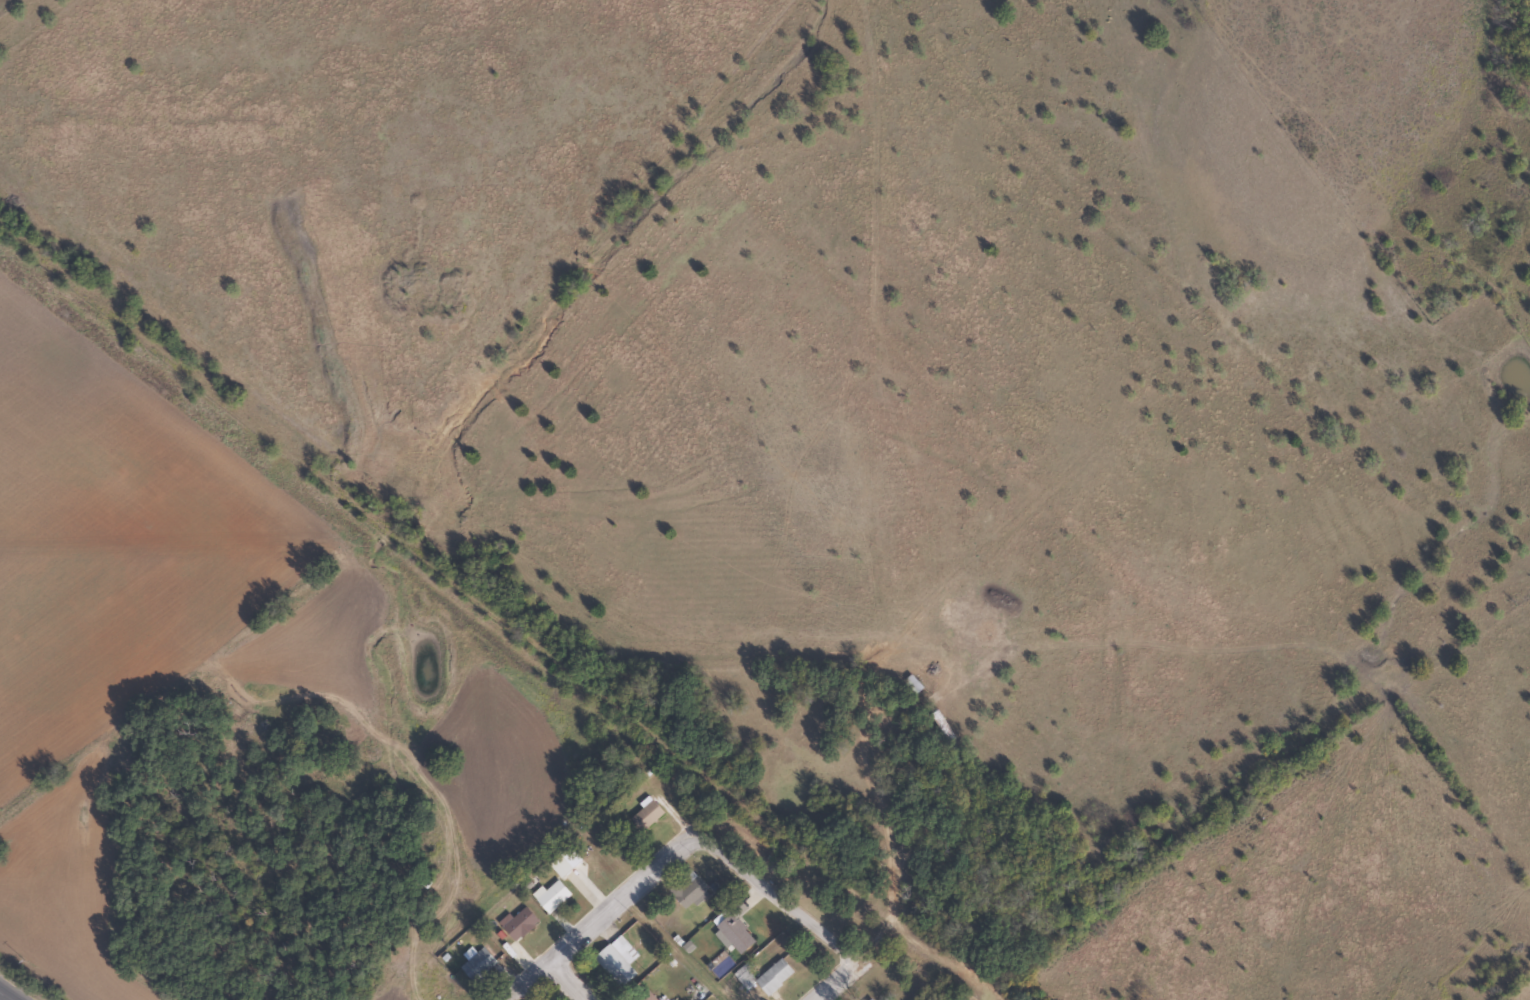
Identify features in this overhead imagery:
railway: (496, 620)
building: (910, 684)
building: (632, 801)
building: (645, 817)
road: (721, 856)
building: (686, 889)
building: (551, 897)
building: (518, 925)
building: (733, 933)
building: (615, 961)
building: (477, 966)
building: (772, 978)
road: (529, 980)
road: (568, 980)
building: (645, 996)
building: (868, 999)

